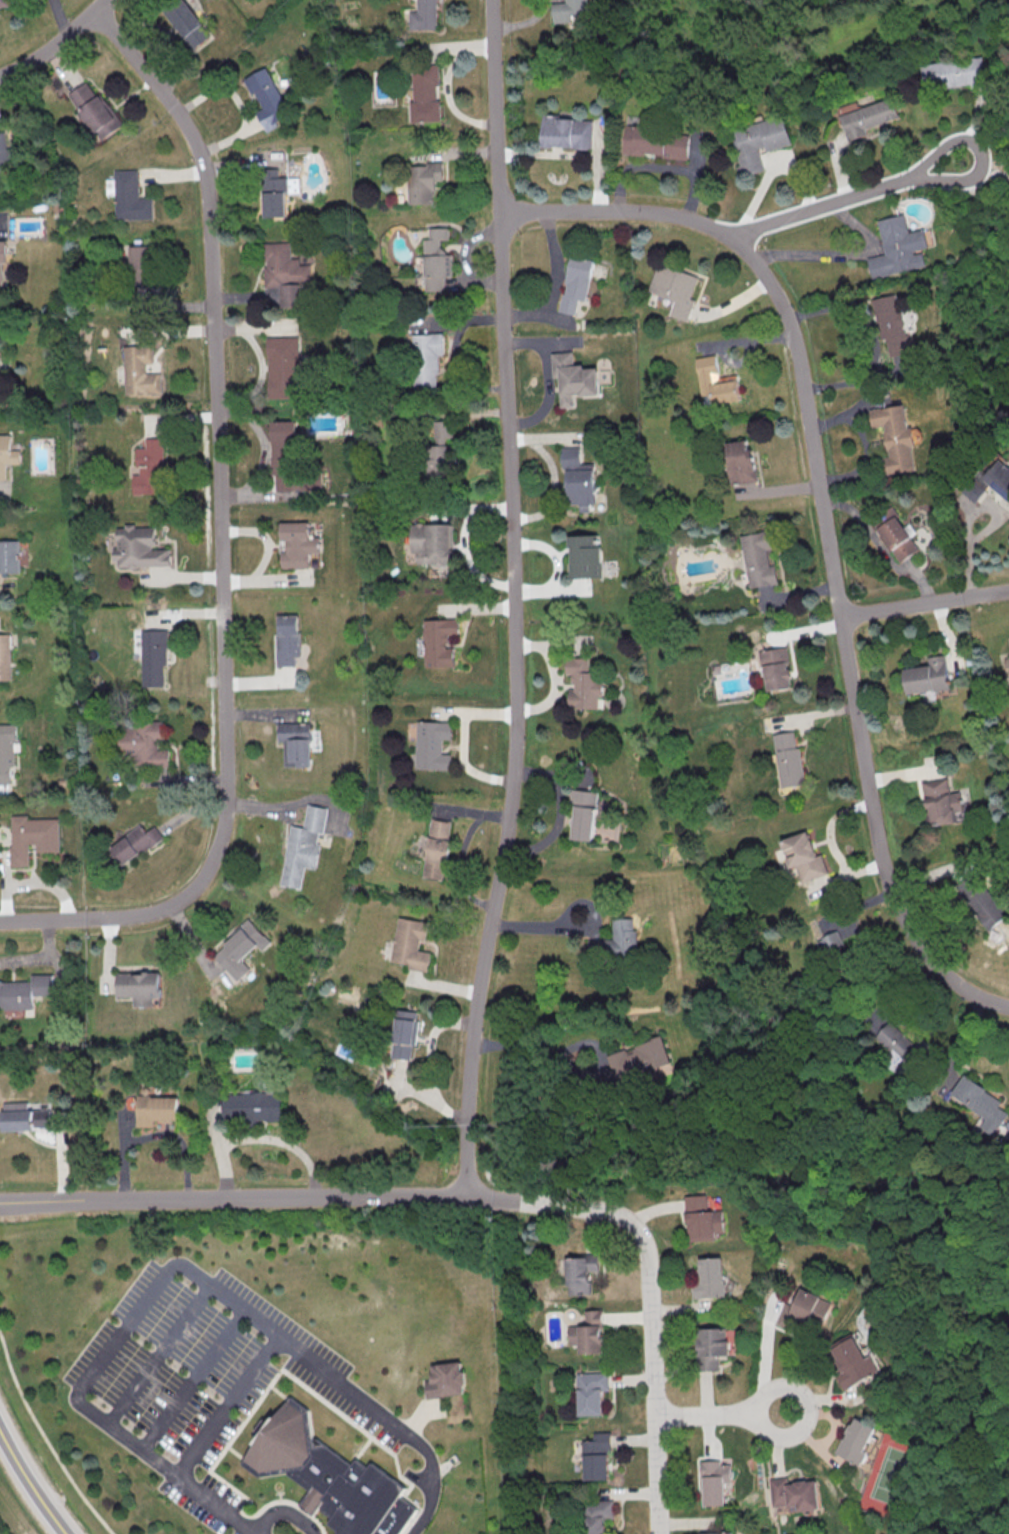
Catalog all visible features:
building: (4, 3)
building: (569, 9)
building: (425, 16)
building: (189, 25)
road: (55, 42)
building: (955, 73)
building: (428, 94)
building: (268, 99)
building: (96, 112)
building: (869, 117)
road: (991, 129)
building: (567, 132)
building: (656, 142)
building: (760, 142)
building: (423, 183)
building: (275, 193)
building: (131, 198)
road: (849, 198)
building: (899, 247)
building: (436, 261)
building: (2, 266)
building: (280, 268)
building: (144, 272)
building: (576, 285)
building: (675, 290)
road: (780, 302)
building: (892, 324)
building: (2, 356)
building: (427, 359)
road: (261, 364)
building: (284, 368)
building: (137, 371)
building: (574, 380)
building: (716, 382)
building: (895, 438)
building: (283, 450)
road: (262, 451)
building: (441, 455)
building: (6, 459)
building: (742, 462)
building: (149, 471)
building: (579, 478)
building: (990, 481)
road: (989, 525)
building: (896, 535)
road: (222, 536)
building: (431, 545)
building: (295, 546)
building: (140, 549)
building: (10, 558)
building: (587, 558)
building: (759, 559)
road: (513, 600)
building: (439, 643)
building: (290, 644)
building: (153, 657)
building: (6, 658)
building: (1007, 664)
building: (776, 668)
building: (928, 676)
building: (584, 686)
building: (146, 745)
building: (296, 745)
building: (433, 746)
building: (7, 751)
road: (864, 754)
building: (788, 759)
building: (942, 801)
road: (295, 804)
building: (584, 814)
building: (32, 838)
building: (135, 843)
building: (303, 848)
building: (437, 851)
building: (804, 856)
building: (980, 902)
road: (569, 912)
road: (534, 925)
building: (617, 943)
building: (831, 943)
building: (242, 945)
building: (411, 946)
road: (39, 956)
building: (140, 988)
building: (25, 993)
building: (405, 1034)
building: (898, 1041)
road: (547, 1052)
building: (637, 1063)
building: (981, 1103)
building: (252, 1107)
building: (156, 1111)
building: (24, 1116)
road: (260, 1137)
road: (923, 1165)
road: (233, 1202)
building: (704, 1219)
road: (192, 1272)
building: (582, 1275)
building: (710, 1278)
road: (648, 1292)
building: (806, 1312)
road: (125, 1328)
building: (591, 1335)
building: (710, 1347)
road: (157, 1352)
road: (308, 1358)
building: (852, 1362)
parking lot: (201, 1377)
road: (192, 1378)
building: (451, 1385)
building: (591, 1394)
road: (226, 1403)
road: (719, 1414)
road: (124, 1434)
road: (45, 1439)
building: (856, 1440)
building: (597, 1460)
building: (330, 1476)
road: (421, 1479)
road: (434, 1482)
building: (714, 1484)
road: (29, 1485)
building: (795, 1493)
road: (216, 1503)
road: (283, 1509)
building: (597, 1517)
building: (728, 1533)

